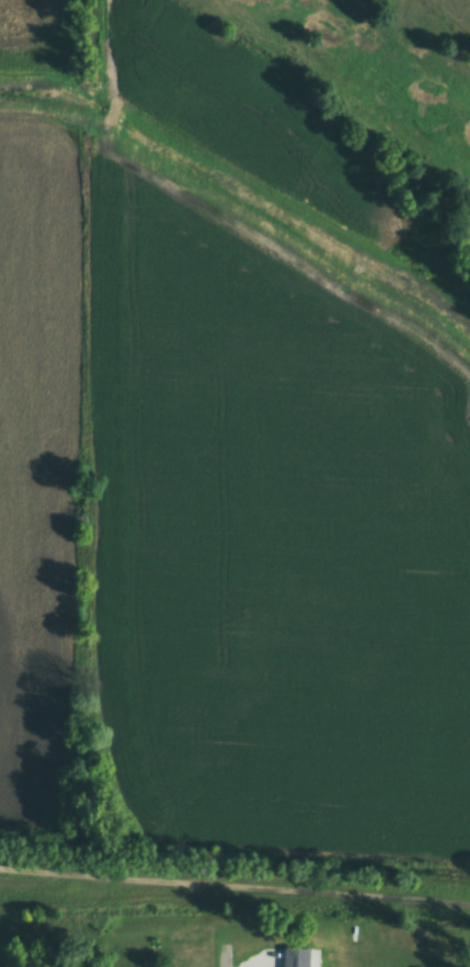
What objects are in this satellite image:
road: (235, 887)
building: (296, 955)
road: (223, 956)

